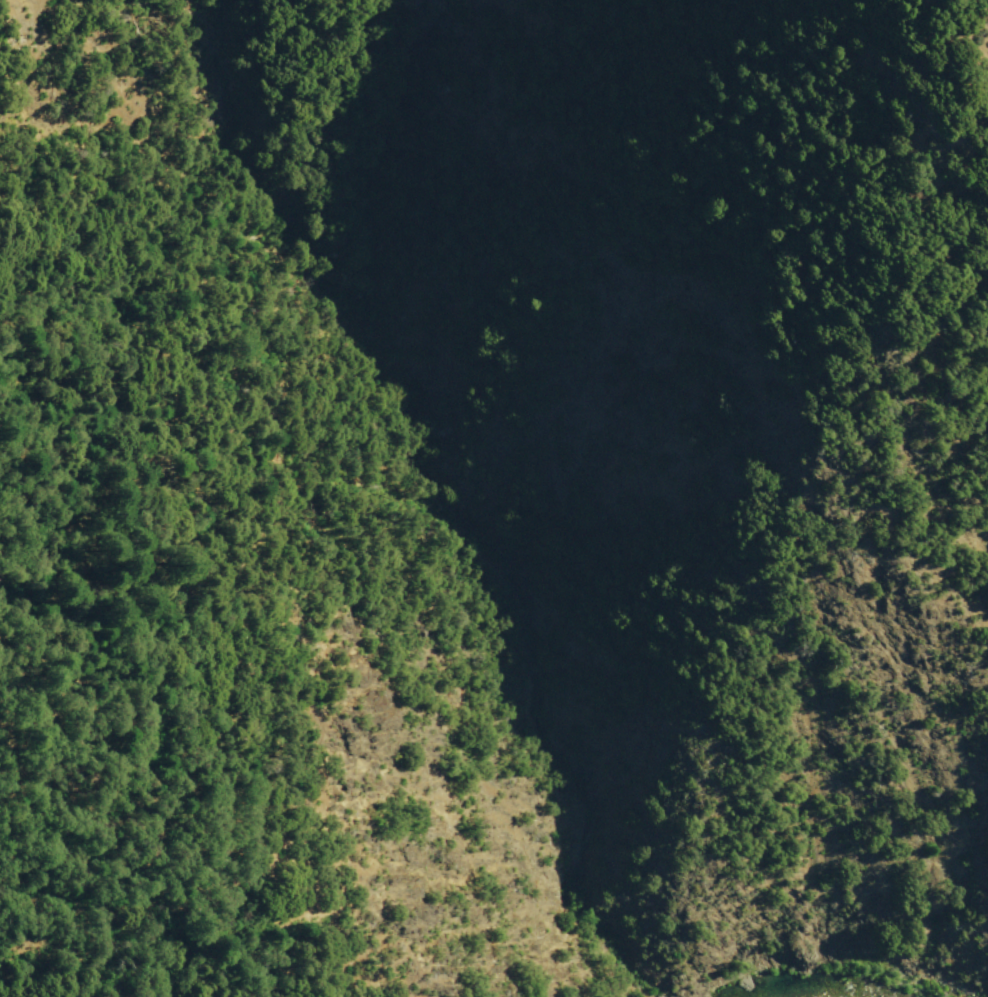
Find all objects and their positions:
road: (231, 555)
river: (816, 987)

